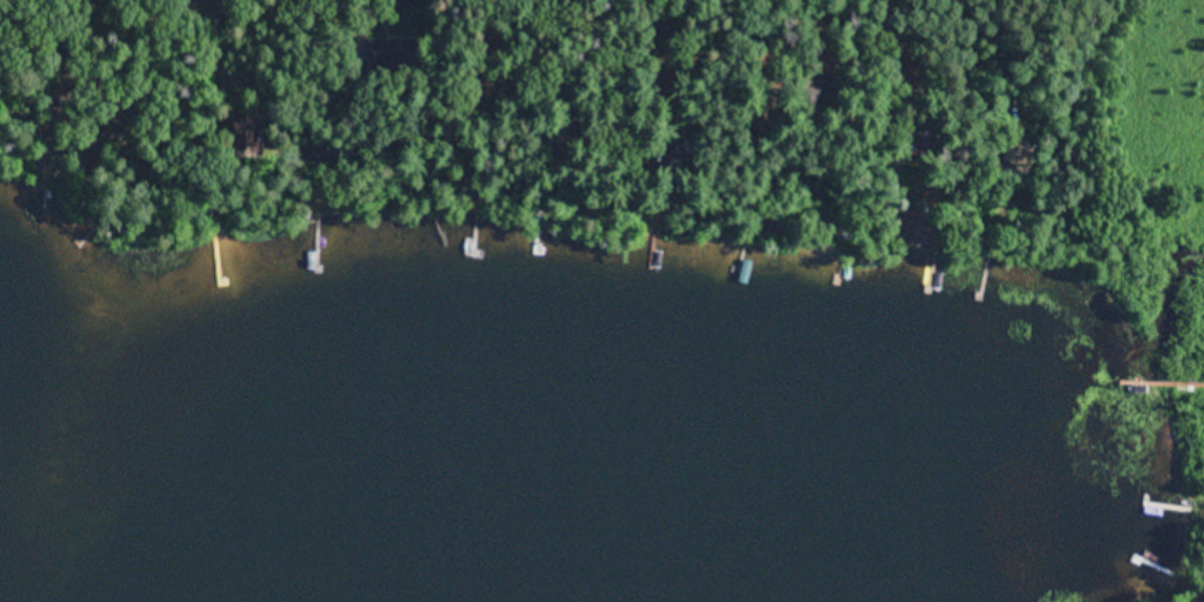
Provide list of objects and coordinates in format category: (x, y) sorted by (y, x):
road: (600, 65)

